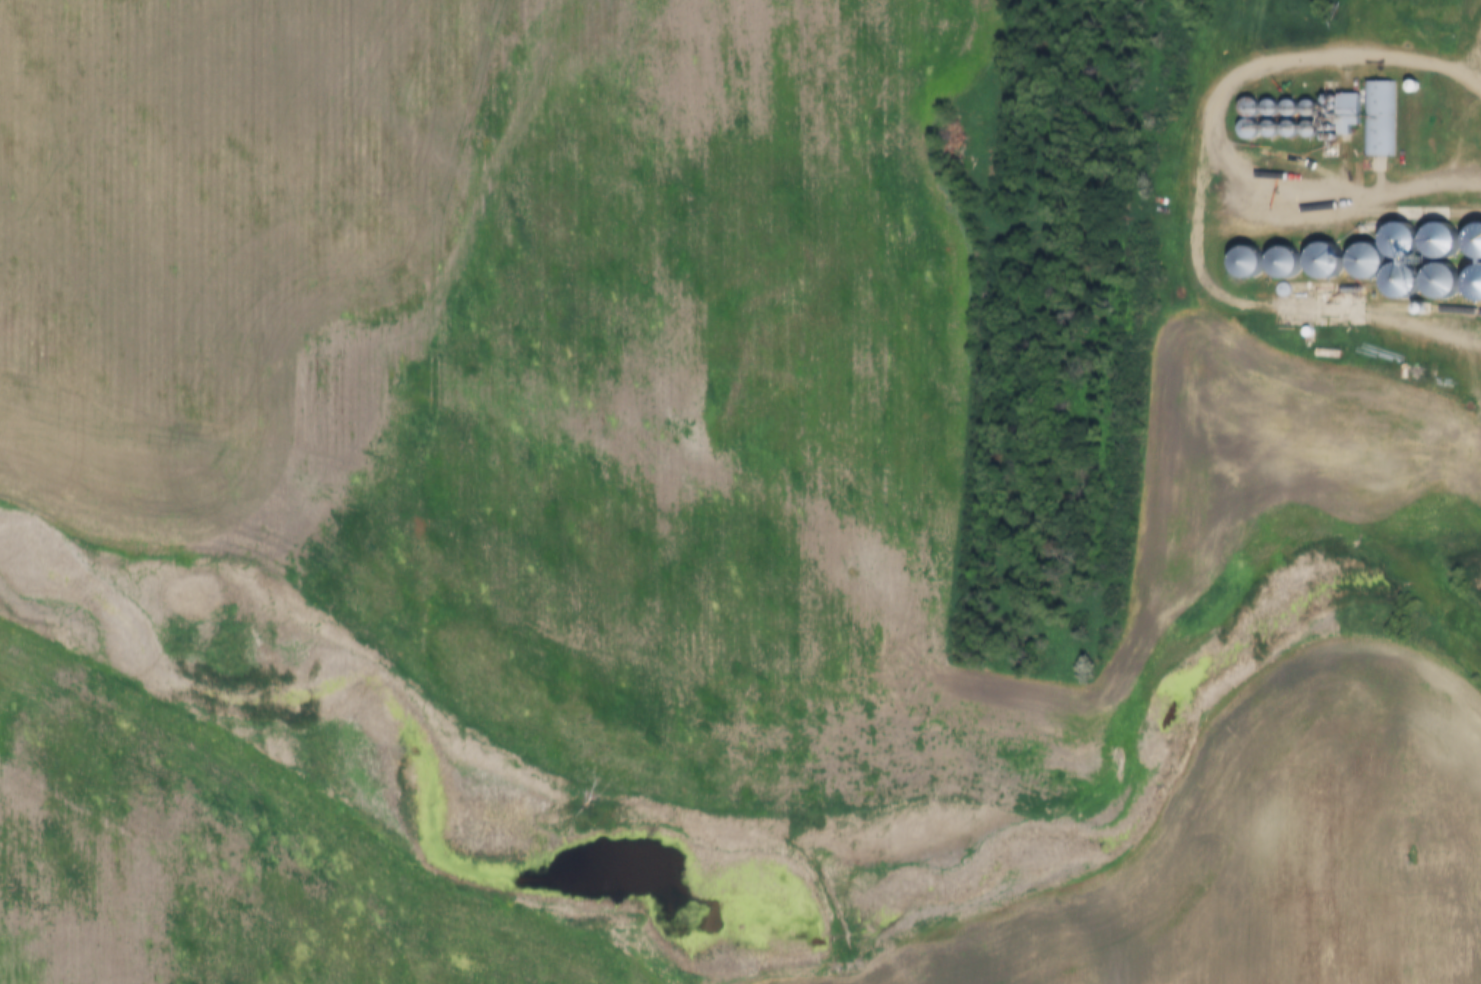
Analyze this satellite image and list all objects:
building: (1439, 25)
road: (1477, 60)
road: (1221, 136)
building: (1404, 241)
building: (1442, 242)
building: (1251, 262)
building: (1289, 263)
building: (1328, 263)
building: (1370, 264)
building: (1409, 282)
building: (1445, 285)
building: (1408, 316)

